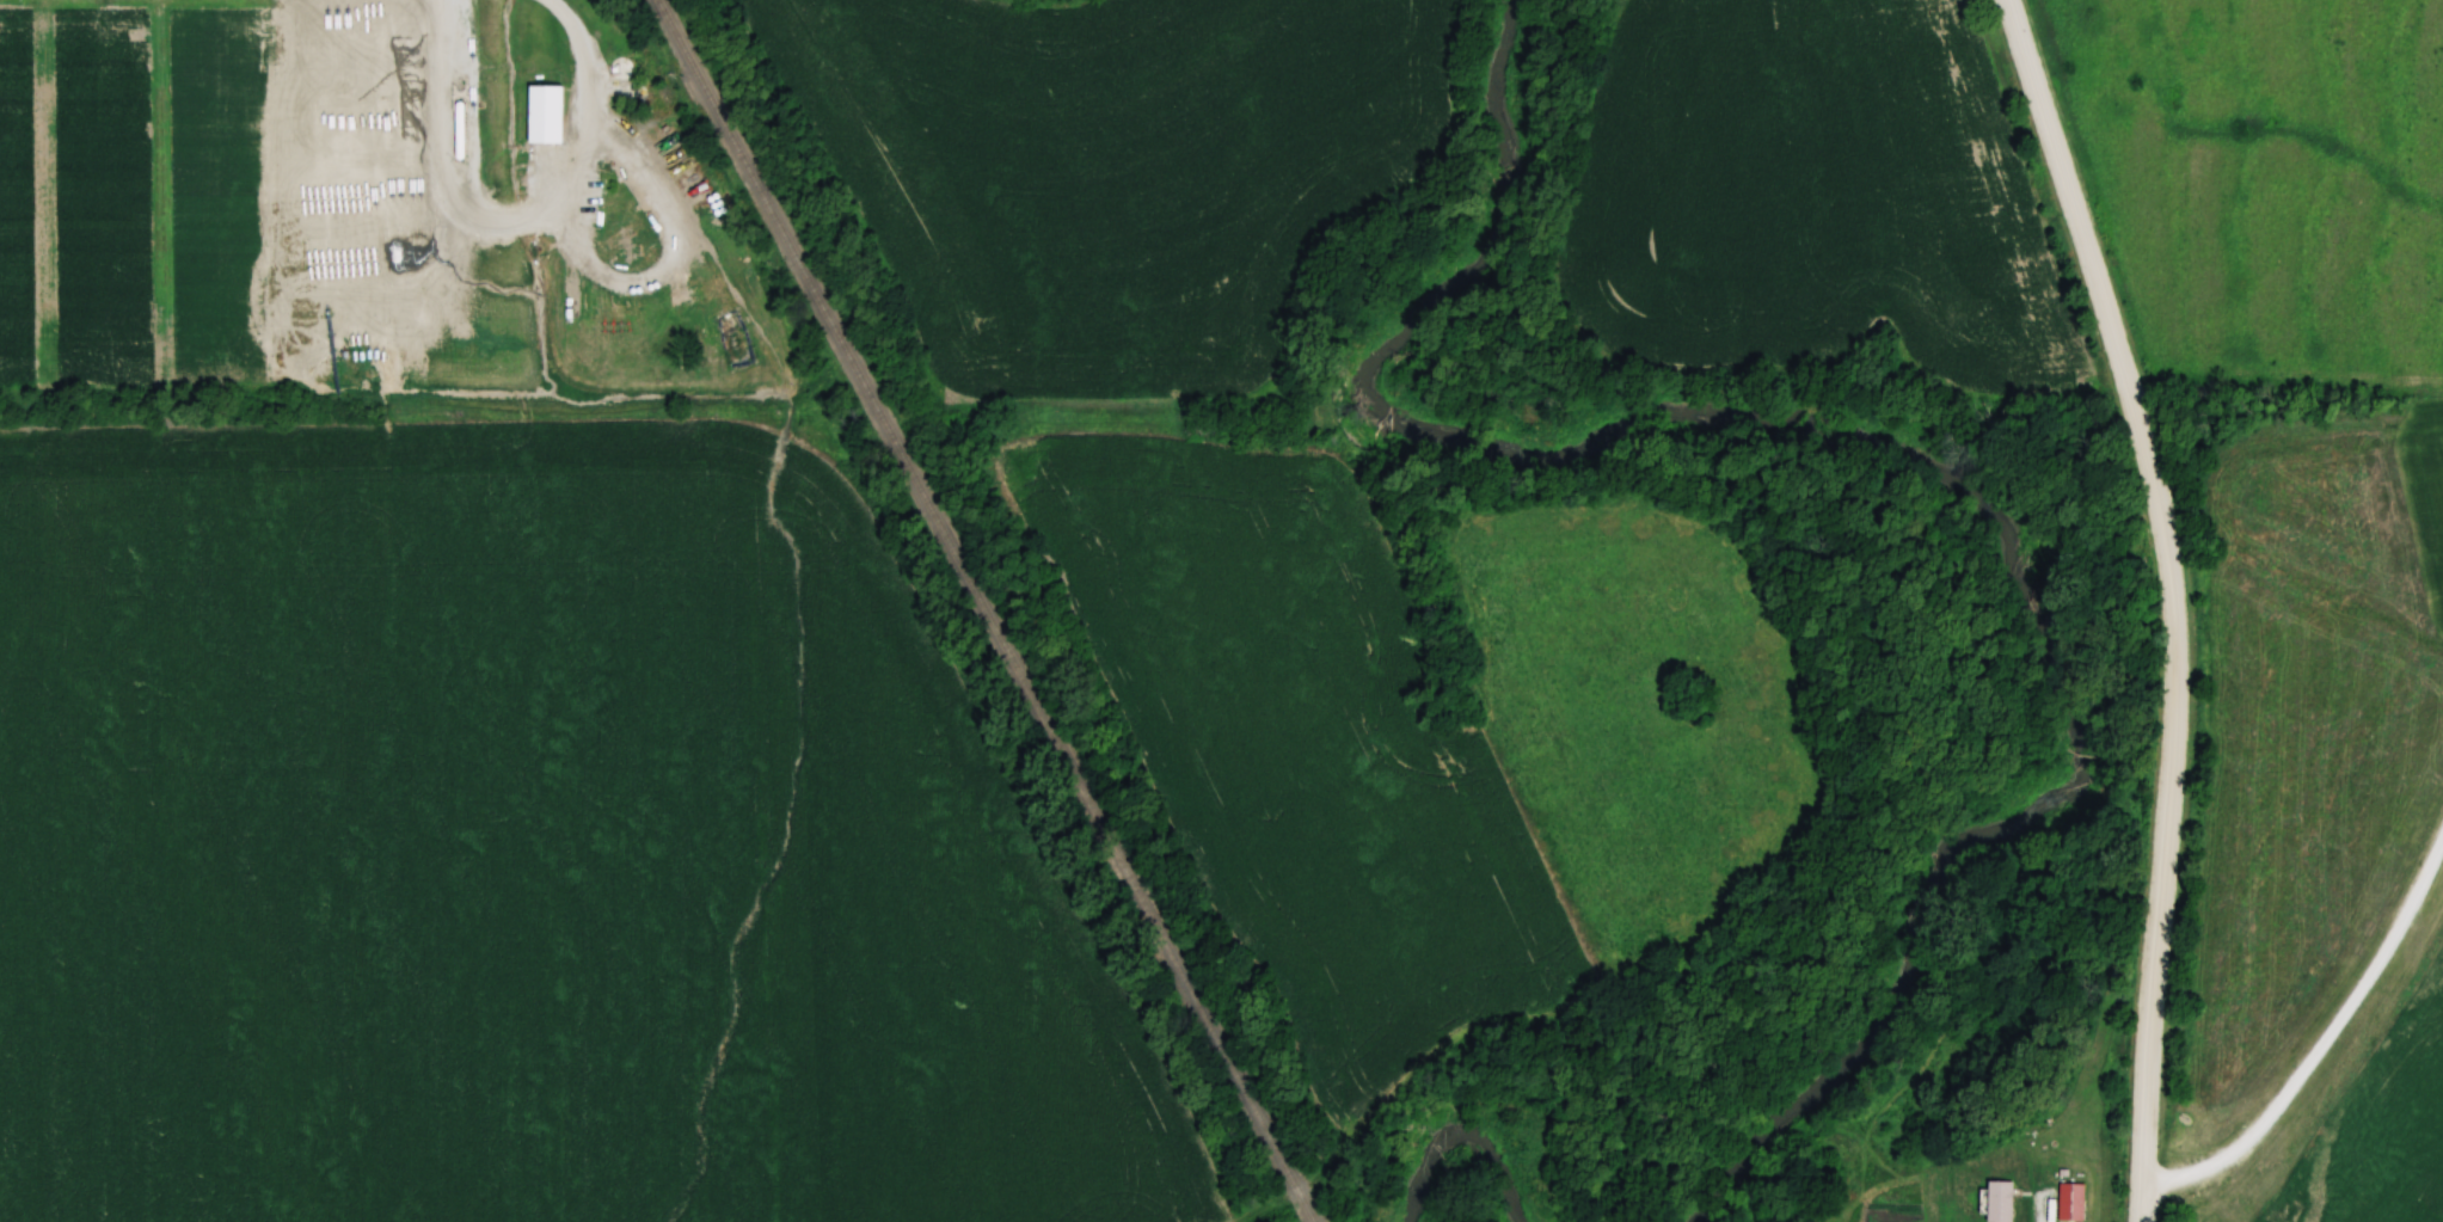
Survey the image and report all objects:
building: (621, 69)
building: (633, 94)
building: (546, 116)
road: (514, 223)
building: (626, 232)
river: (1897, 455)
road: (2173, 600)
railway: (984, 610)
road: (2322, 1046)
river: (1468, 1130)
building: (2001, 1200)
building: (2071, 1202)

